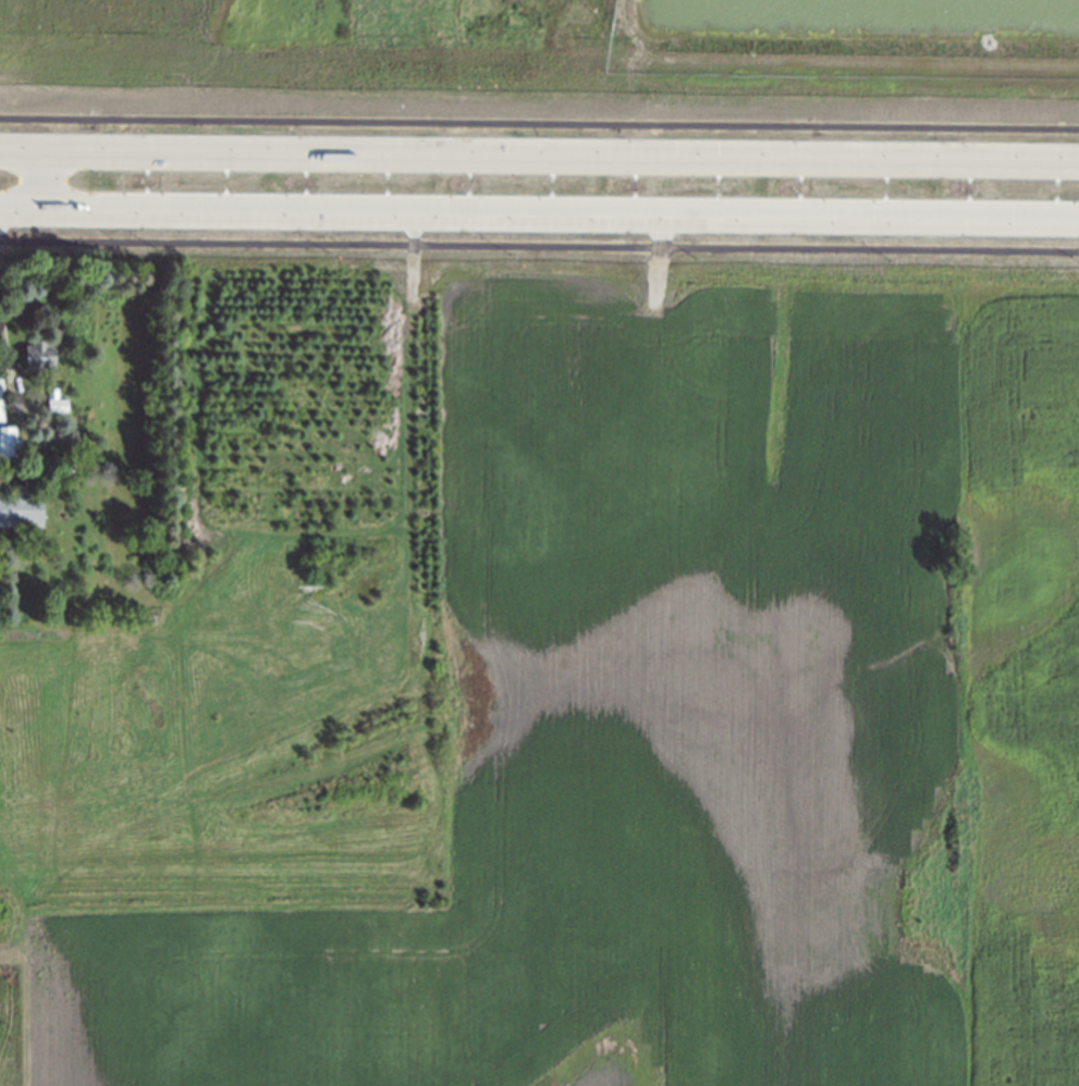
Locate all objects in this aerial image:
road: (539, 121)
road: (539, 156)
road: (40, 181)
road: (539, 213)
road: (539, 245)
building: (37, 353)
road: (8, 377)
building: (51, 398)
building: (1, 400)
building: (5, 436)
building: (62, 460)
building: (20, 506)
building: (32, 542)

